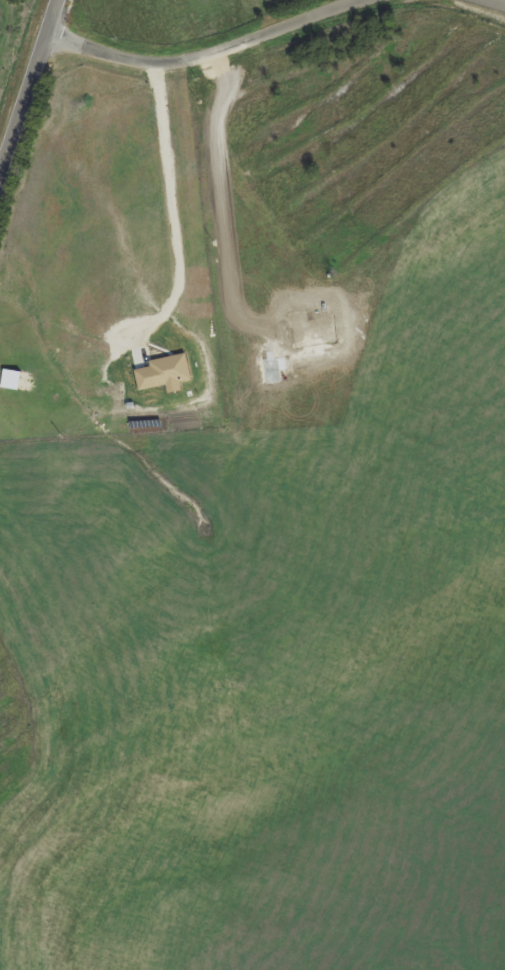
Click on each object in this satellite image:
road: (486, 6)
road: (203, 57)
road: (26, 84)
road: (175, 250)
building: (161, 372)
building: (8, 378)

